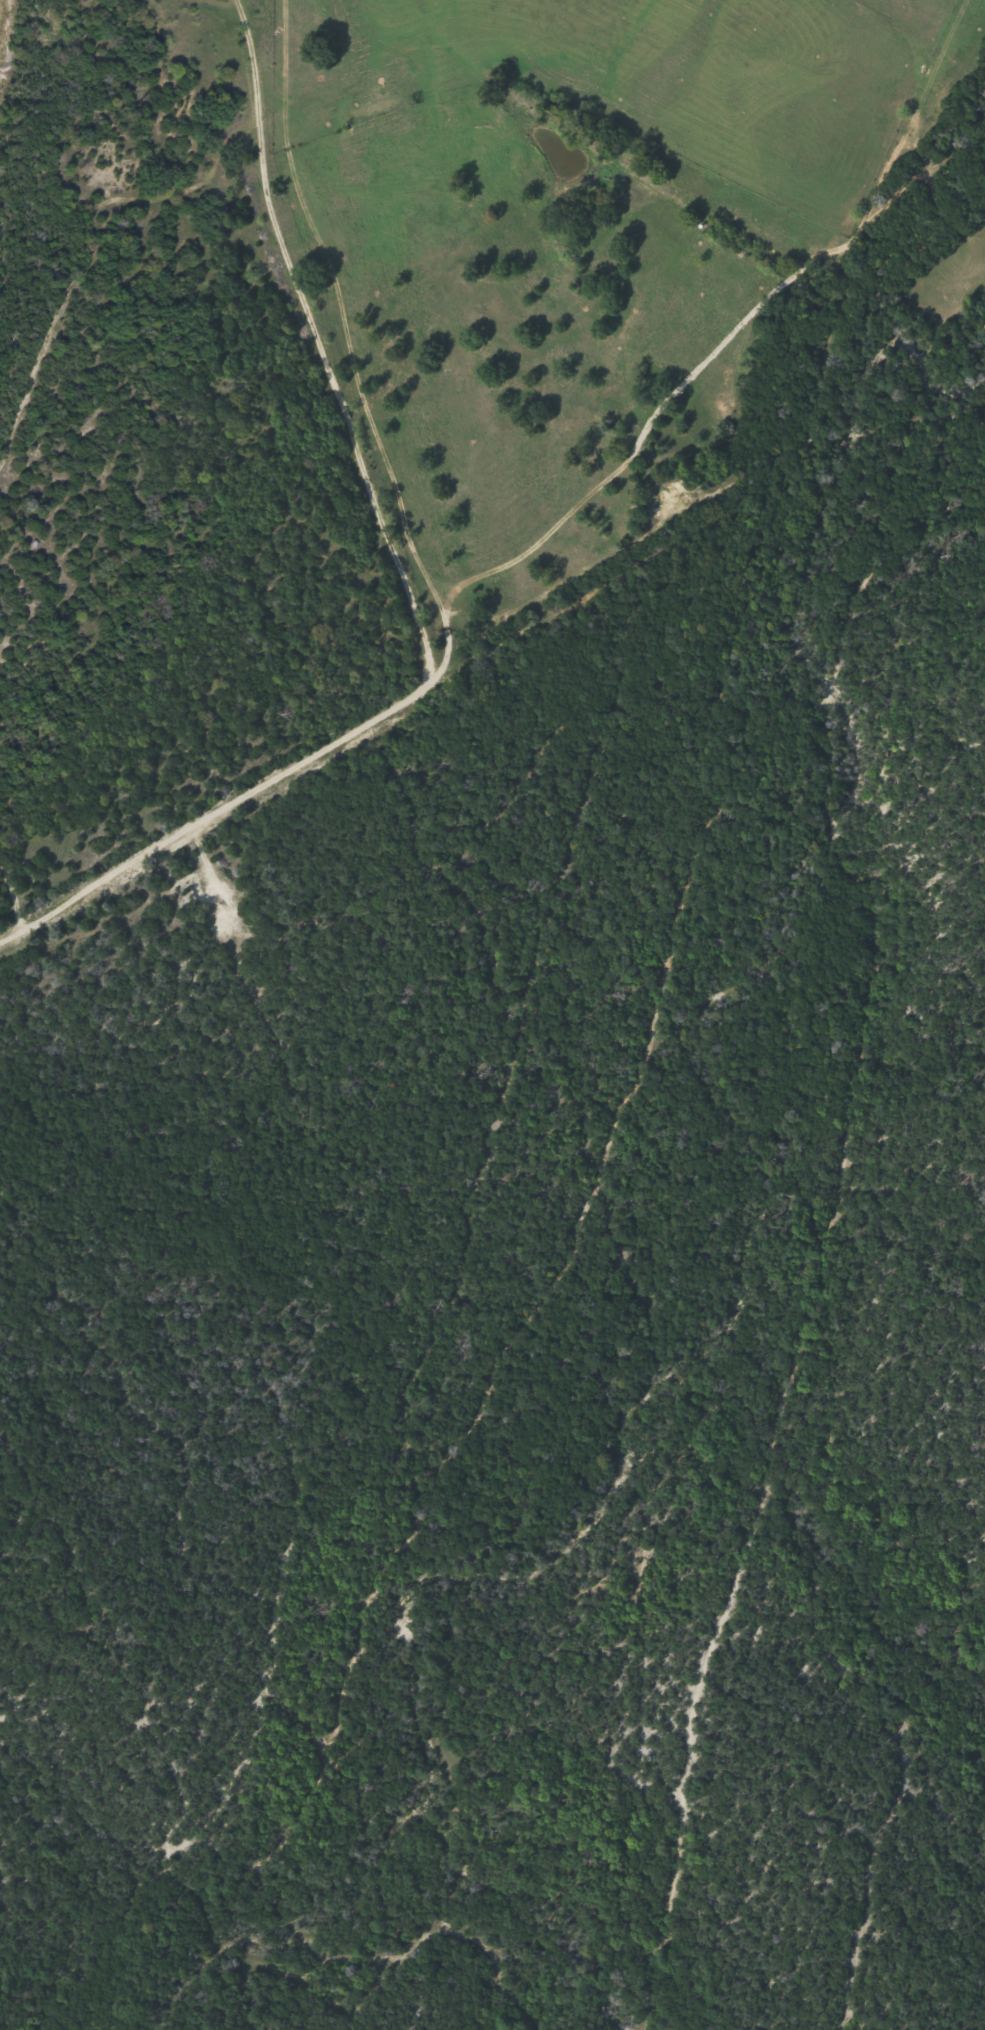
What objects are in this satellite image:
road: (398, 574)

